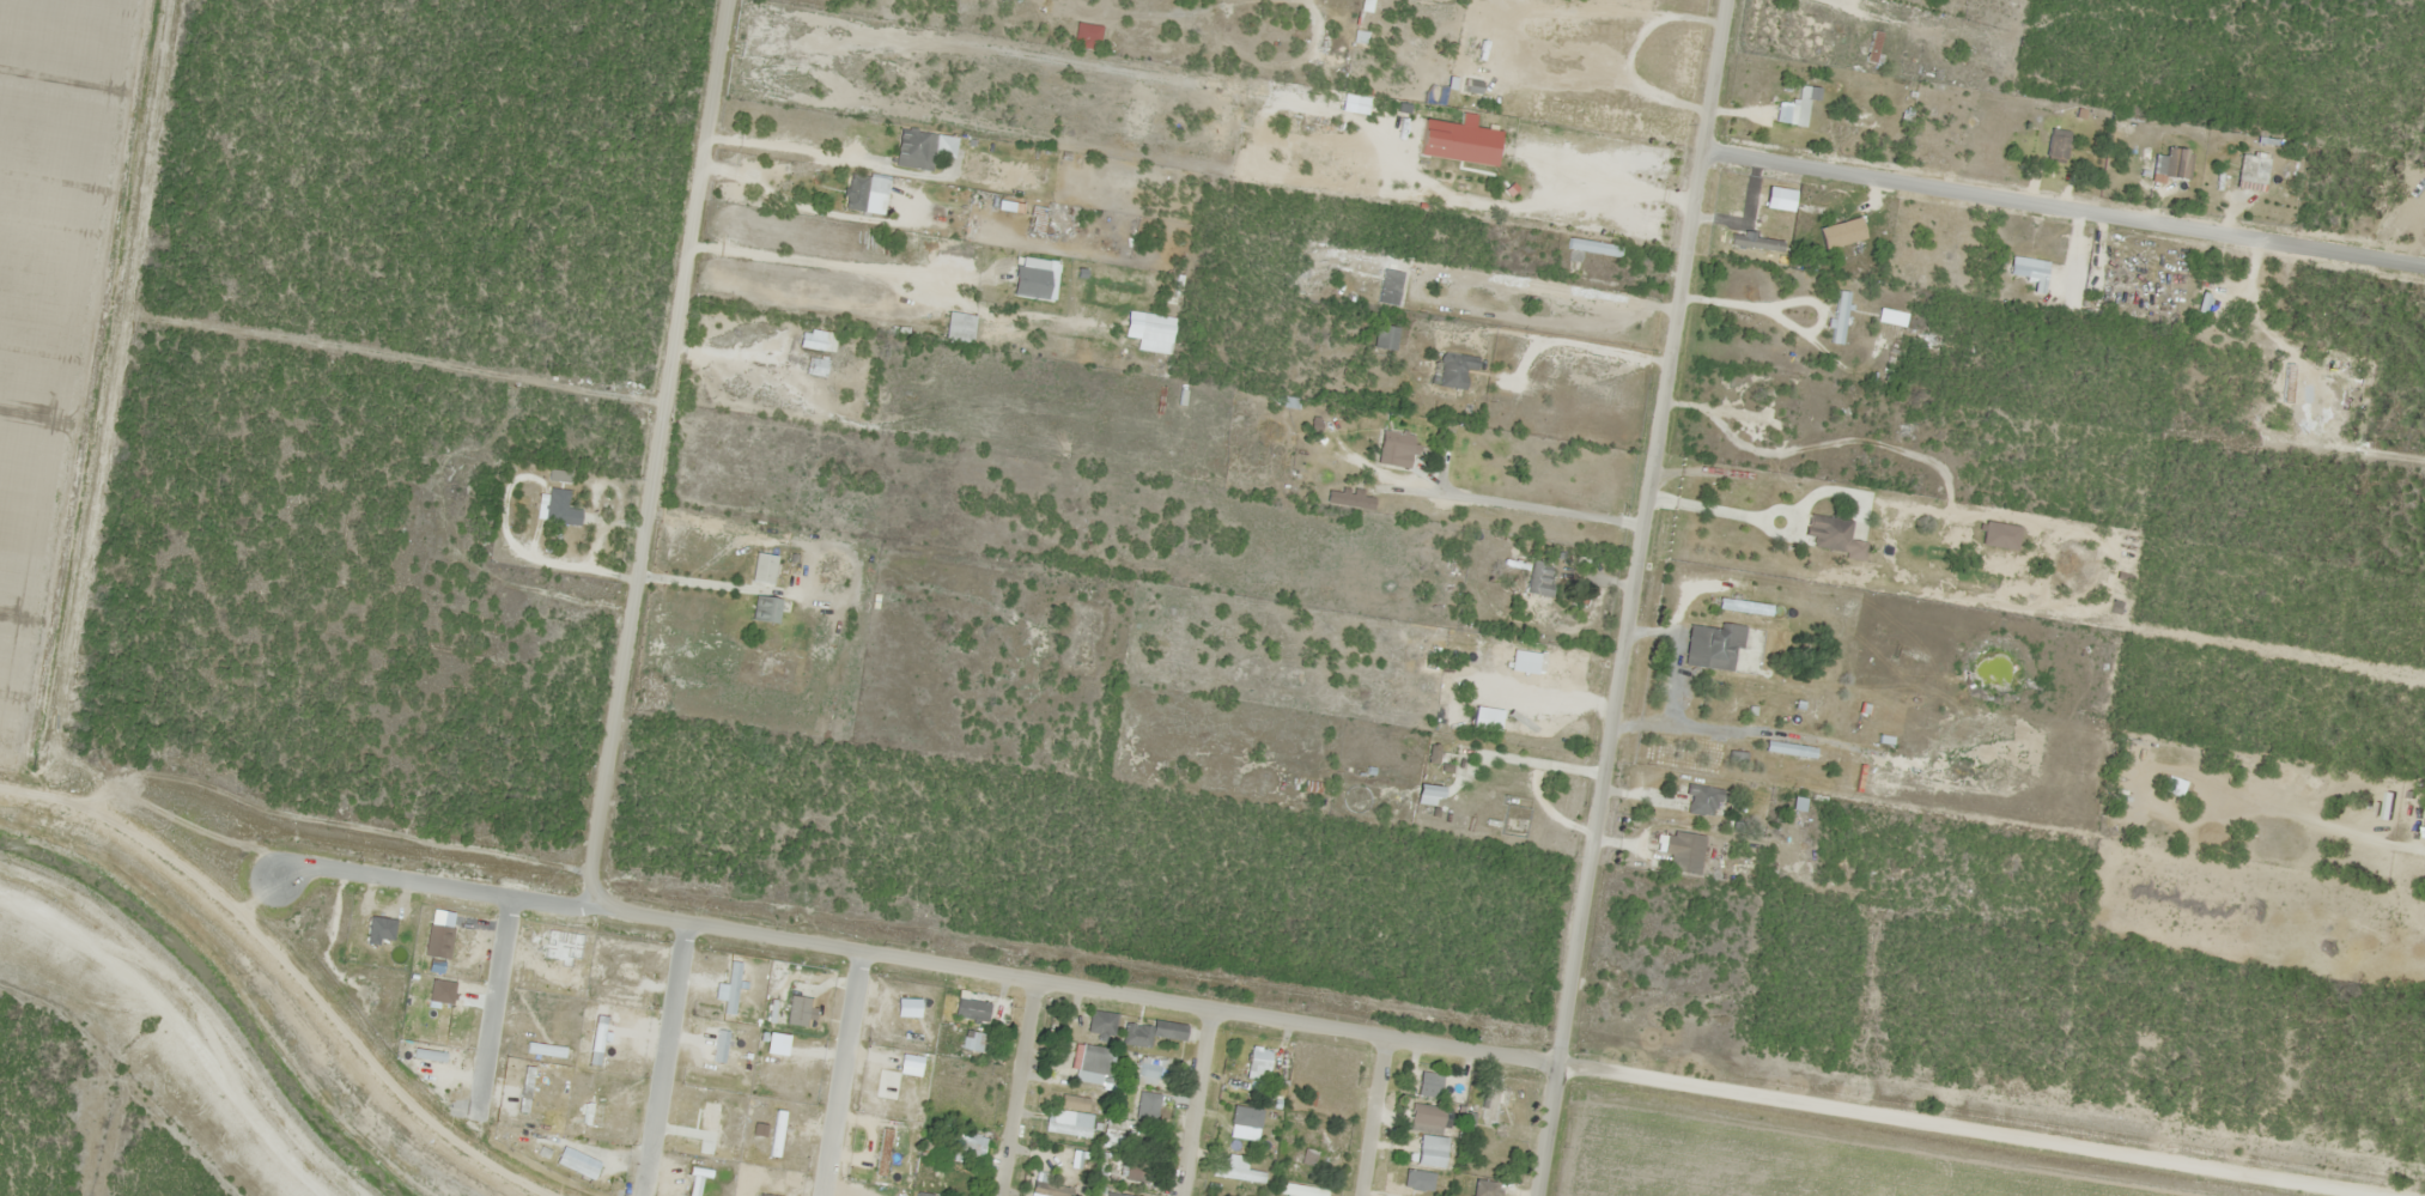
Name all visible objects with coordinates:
building: (1472, 29)
building: (1463, 85)
building: (2054, 146)
building: (912, 150)
building: (2143, 163)
building: (2175, 164)
building: (2256, 170)
building: (2229, 171)
building: (1570, 187)
building: (859, 196)
road: (2065, 207)
building: (1034, 220)
building: (1591, 248)
building: (2024, 272)
building: (1387, 287)
building: (1836, 317)
building: (1890, 317)
building: (1382, 339)
building: (814, 340)
building: (1453, 370)
building: (1786, 413)
building: (1391, 450)
road: (656, 454)
building: (558, 509)
building: (1828, 535)
building: (760, 569)
building: (1537, 578)
road: (1637, 599)
building: (764, 609)
building: (1710, 646)
road: (66, 670)
building: (1701, 801)
building: (1681, 852)
road: (910, 960)
road: (492, 1007)
building: (968, 1010)
building: (1100, 1024)
building: (1149, 1033)
building: (974, 1042)
road: (663, 1060)
building: (1256, 1060)
building: (1089, 1063)
building: (1144, 1071)
road: (838, 1074)
building: (1420, 1081)
road: (1019, 1088)
road: (1195, 1103)
building: (1494, 1104)
building: (1143, 1105)
building: (1424, 1111)
road: (1374, 1118)
road: (1967, 1129)
building: (1064, 1130)
building: (1122, 1133)
building: (965, 1146)
building: (1428, 1152)
building: (1069, 1160)
building: (1135, 1170)
building: (1236, 1171)
building: (1045, 1185)
building: (1483, 1188)
building: (1301, 1191)
building: (1113, 1194)
building: (920, 1195)

